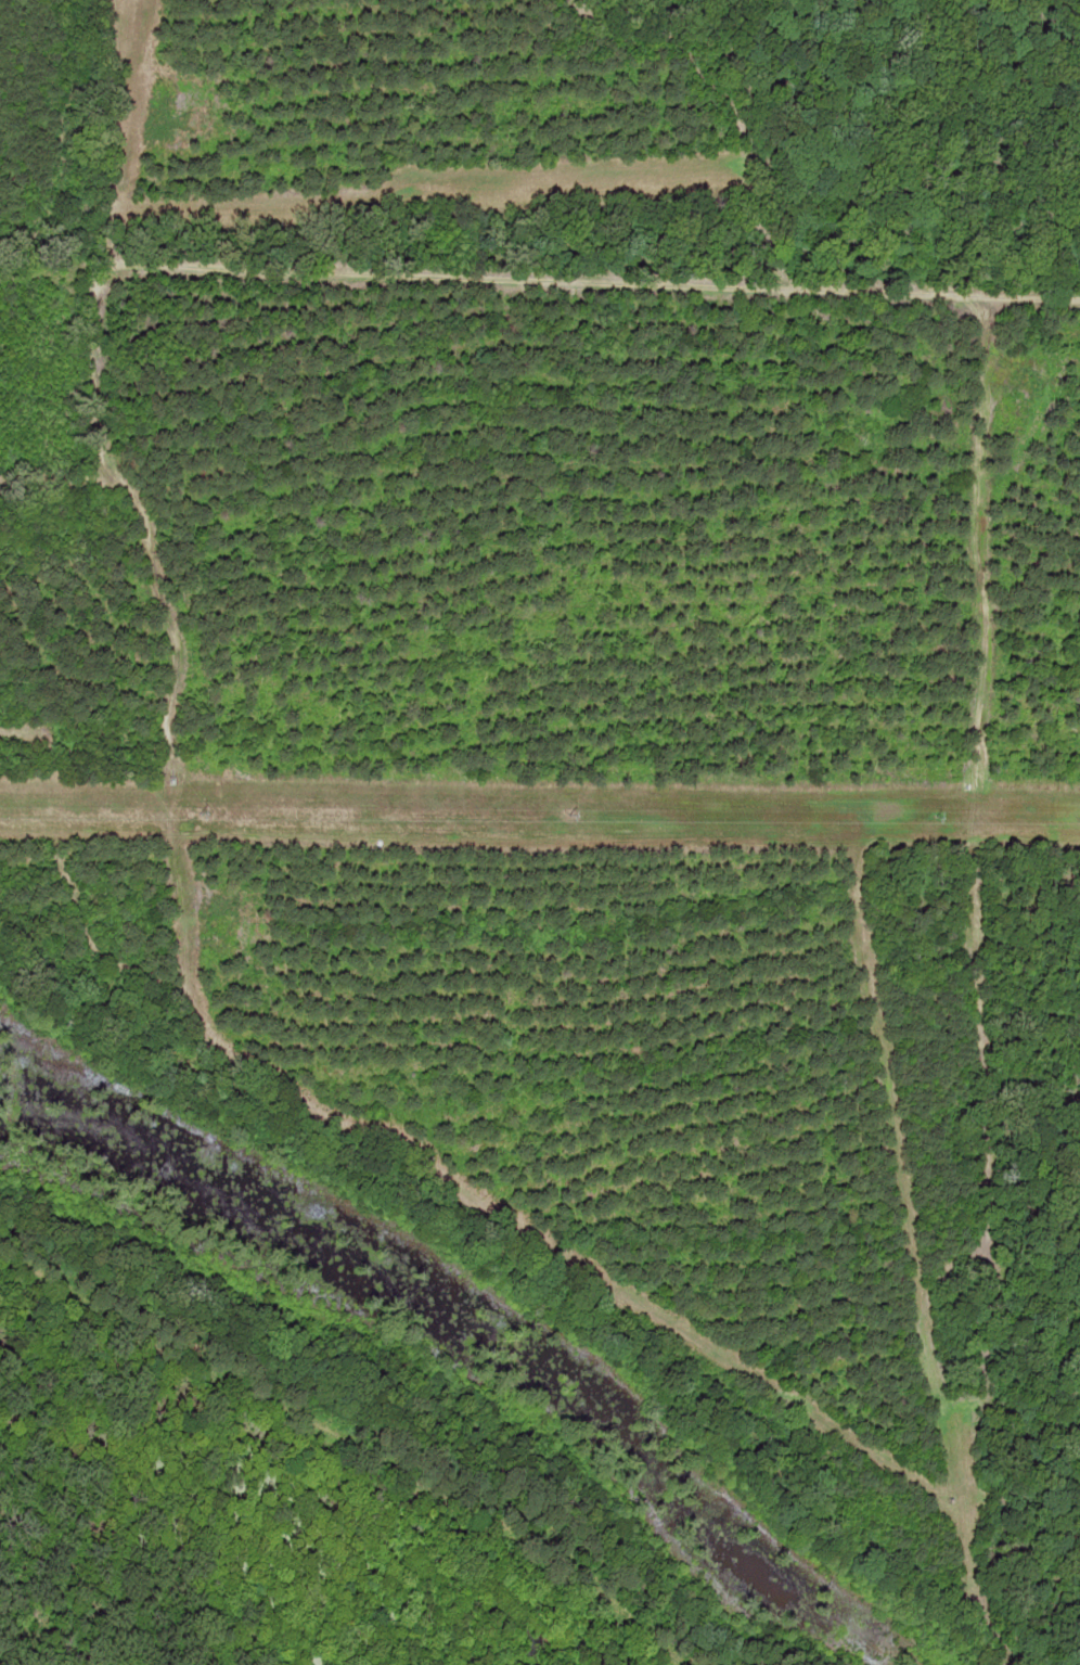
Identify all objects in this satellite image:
road: (467, 278)

